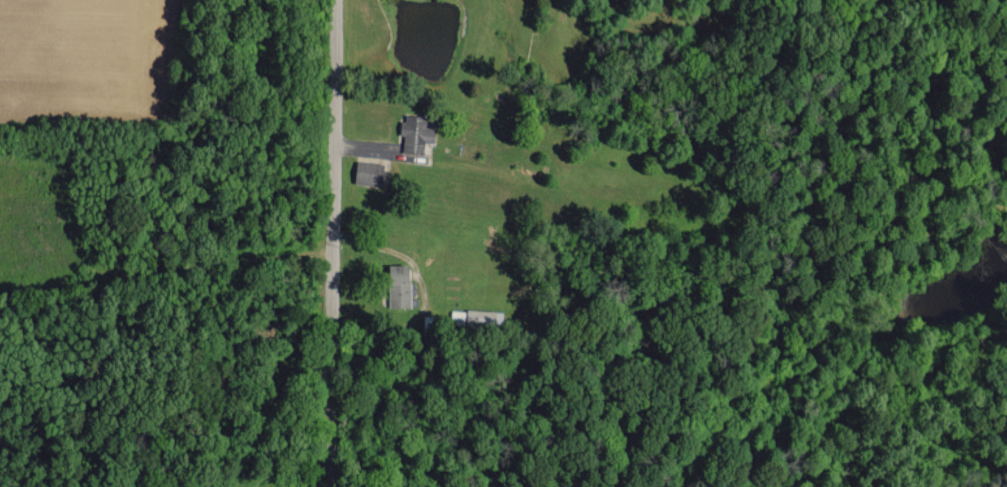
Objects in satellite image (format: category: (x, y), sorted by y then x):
building: (416, 132)
building: (368, 172)
road: (332, 243)
building: (399, 285)
road: (165, 297)
building: (458, 316)
building: (483, 316)

